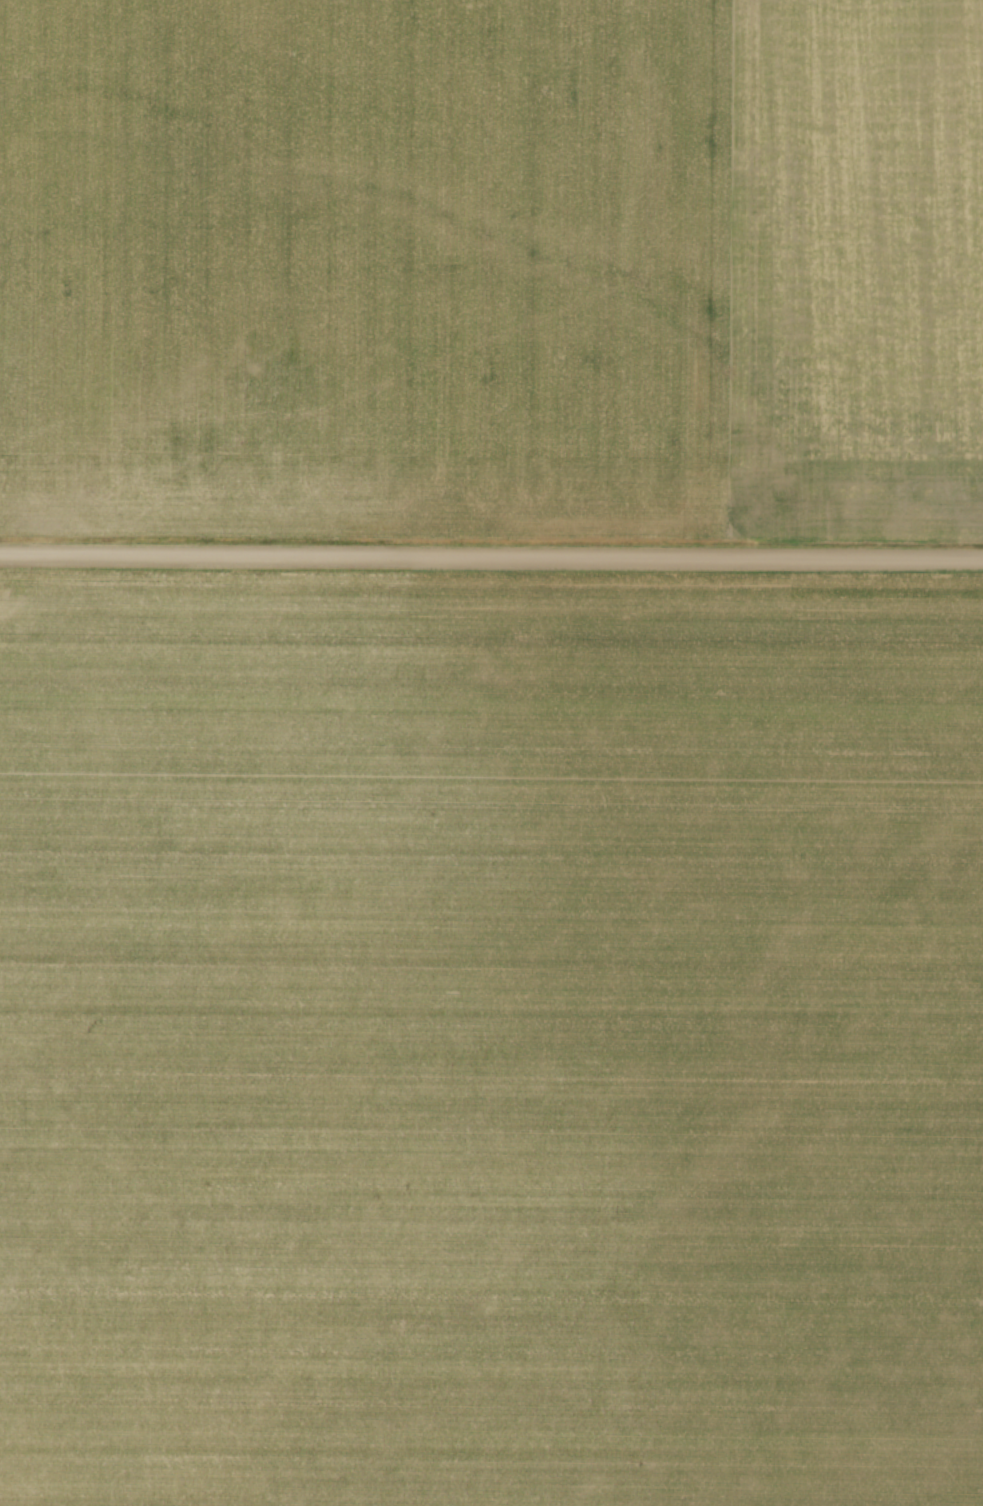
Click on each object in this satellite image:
crop: (492, 266)
road: (491, 554)
crop: (490, 1041)

